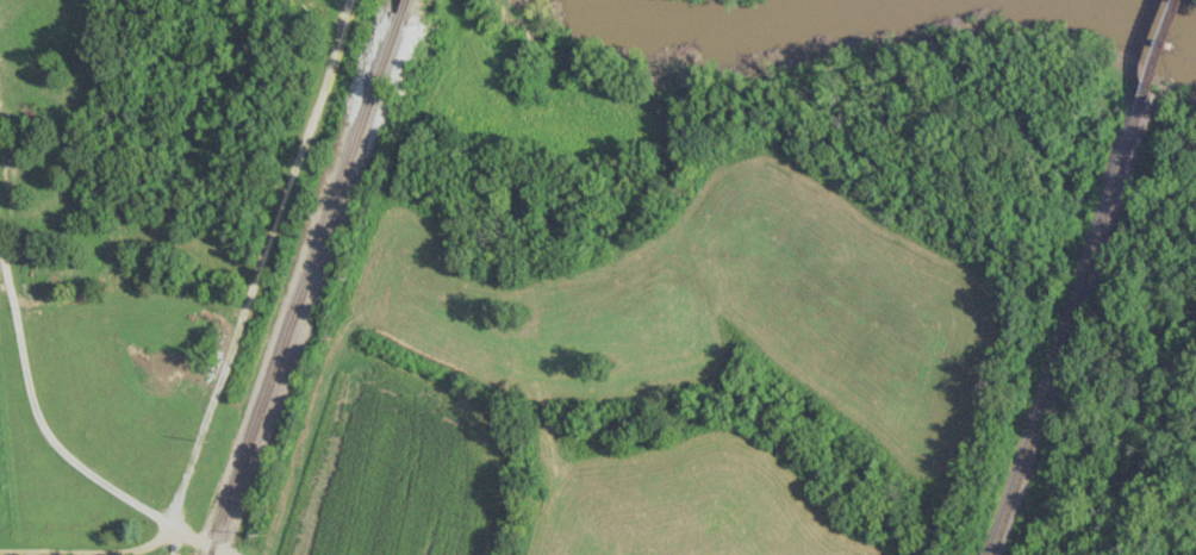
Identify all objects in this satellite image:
railway: (398, 6)
railway: (1154, 55)
railway: (303, 283)
railway: (1064, 332)
road: (205, 423)
road: (56, 444)
road: (88, 551)

